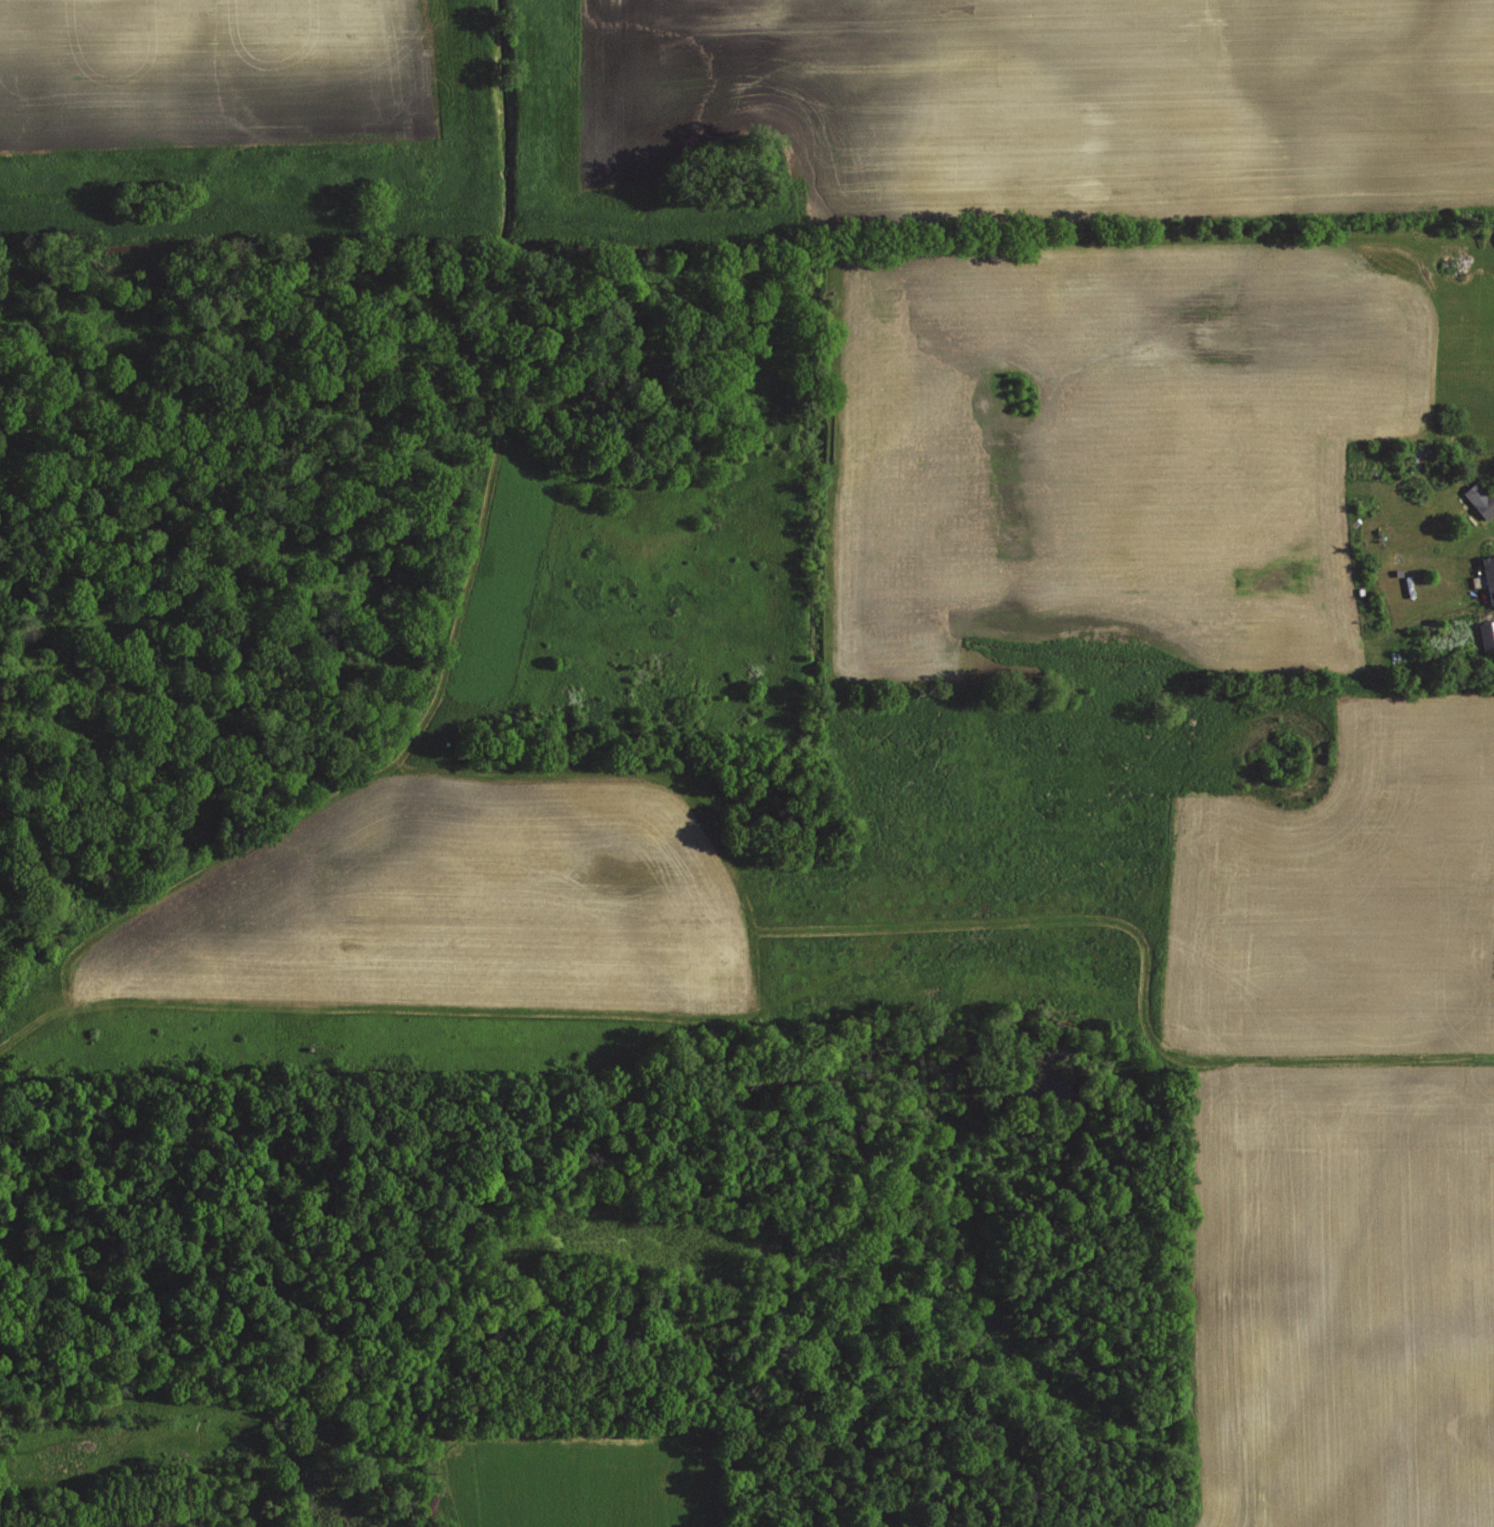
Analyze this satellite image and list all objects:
building: (1480, 498)
building: (1488, 576)
building: (1486, 633)

